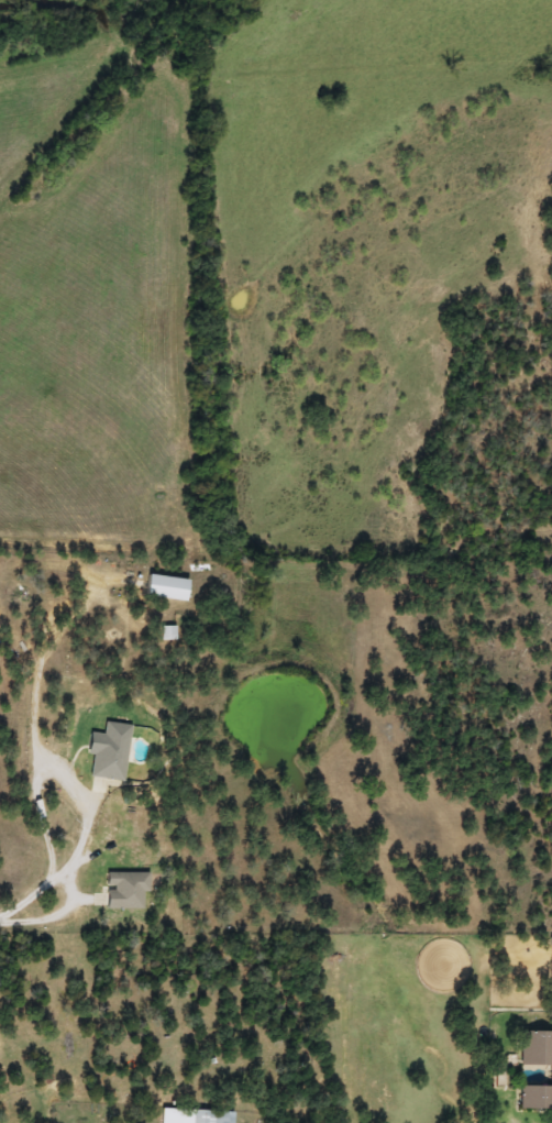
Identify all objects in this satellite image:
railway: (96, 103)
building: (164, 587)
building: (107, 751)
building: (124, 890)
building: (536, 1048)
building: (194, 1115)

